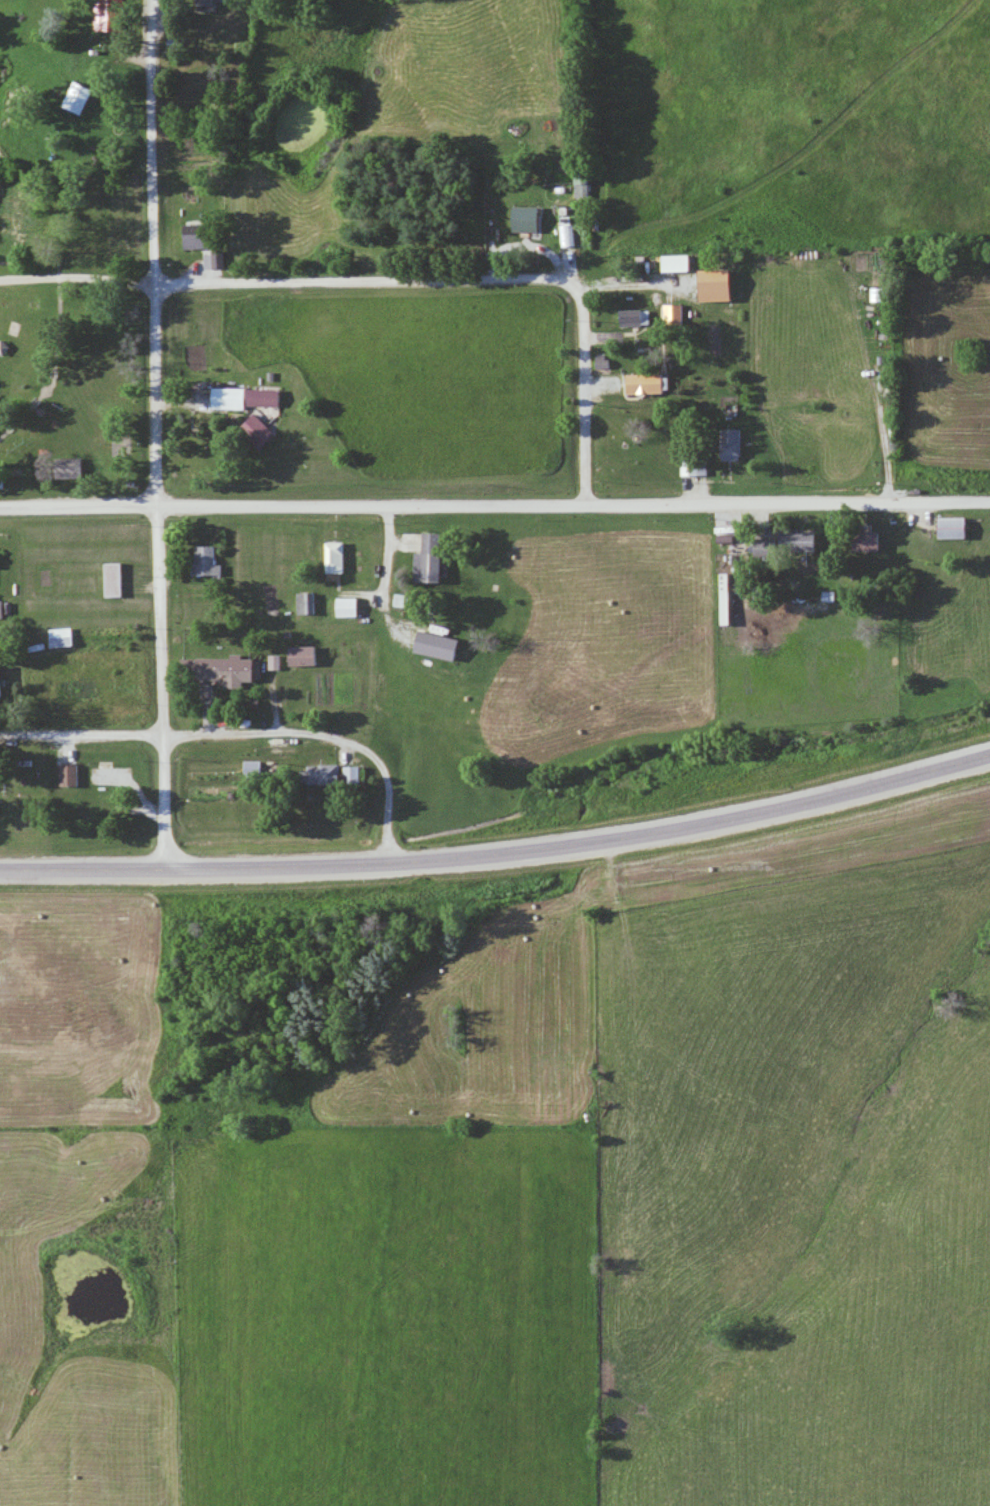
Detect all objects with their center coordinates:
building: (112, 13)
building: (81, 95)
building: (578, 185)
building: (565, 231)
building: (671, 263)
road: (287, 280)
building: (670, 315)
building: (630, 318)
building: (638, 383)
road: (583, 393)
building: (249, 396)
building: (264, 426)
road: (162, 434)
building: (729, 442)
building: (684, 466)
road: (495, 503)
building: (946, 527)
building: (792, 541)
building: (859, 541)
building: (759, 545)
building: (328, 558)
building: (423, 558)
building: (207, 559)
building: (116, 579)
building: (342, 608)
building: (65, 636)
building: (456, 647)
building: (295, 656)
building: (223, 669)
building: (1, 680)
road: (161, 735)
building: (248, 768)
building: (315, 775)
building: (346, 775)
road: (385, 779)
road: (500, 855)
crop: (384, 1315)

